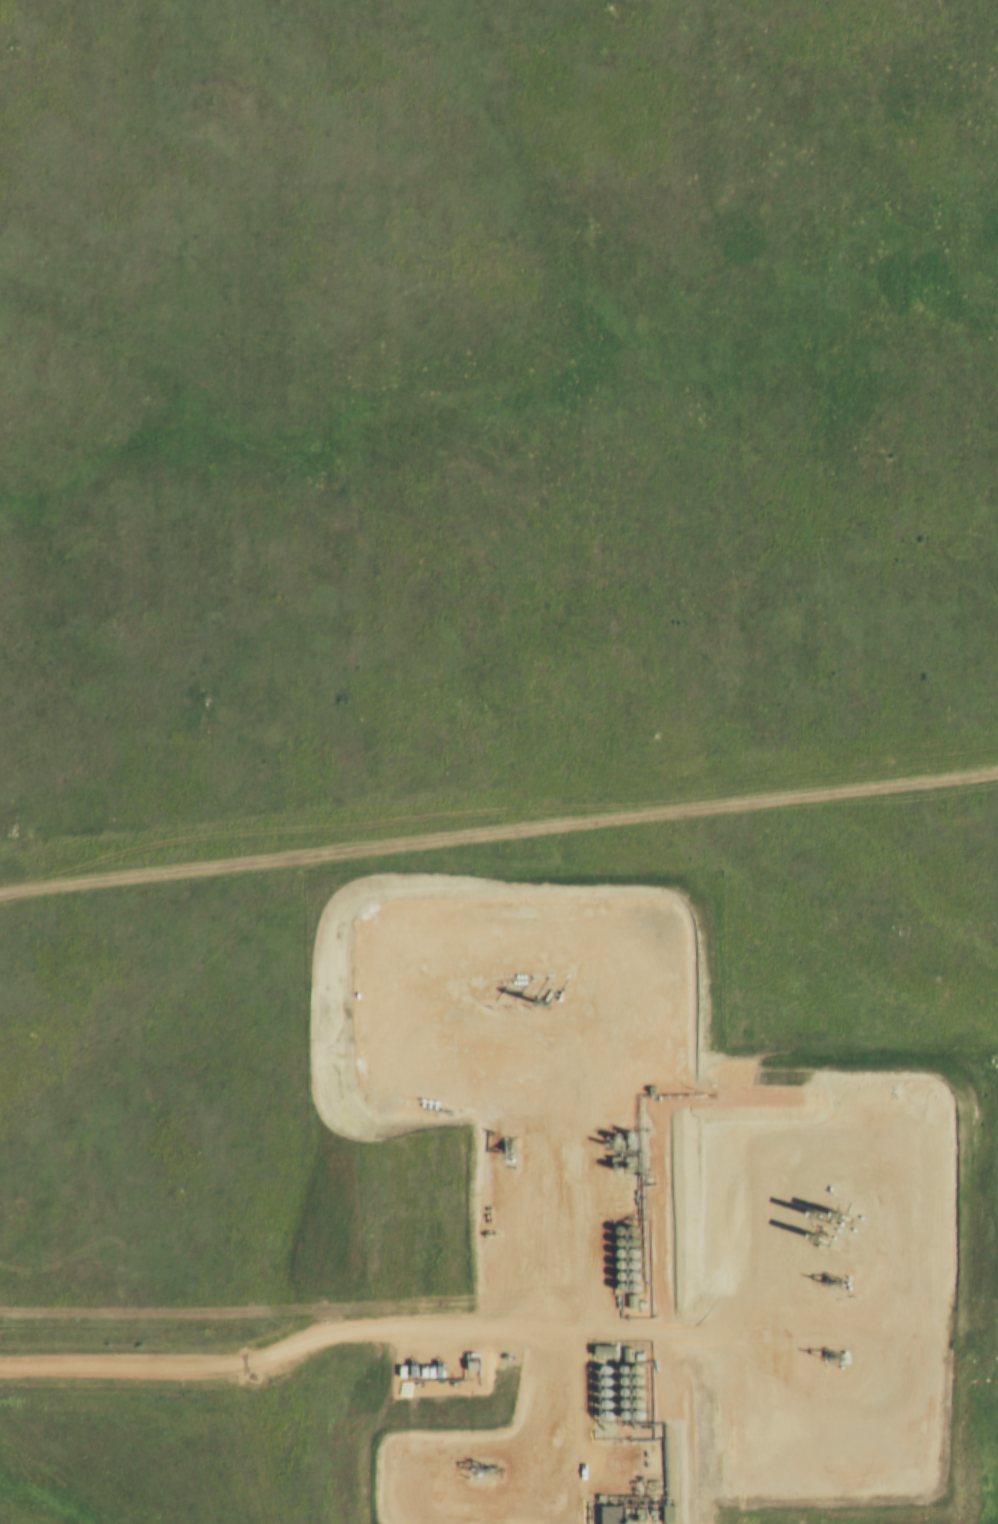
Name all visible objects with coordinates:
road: (167, 1361)

